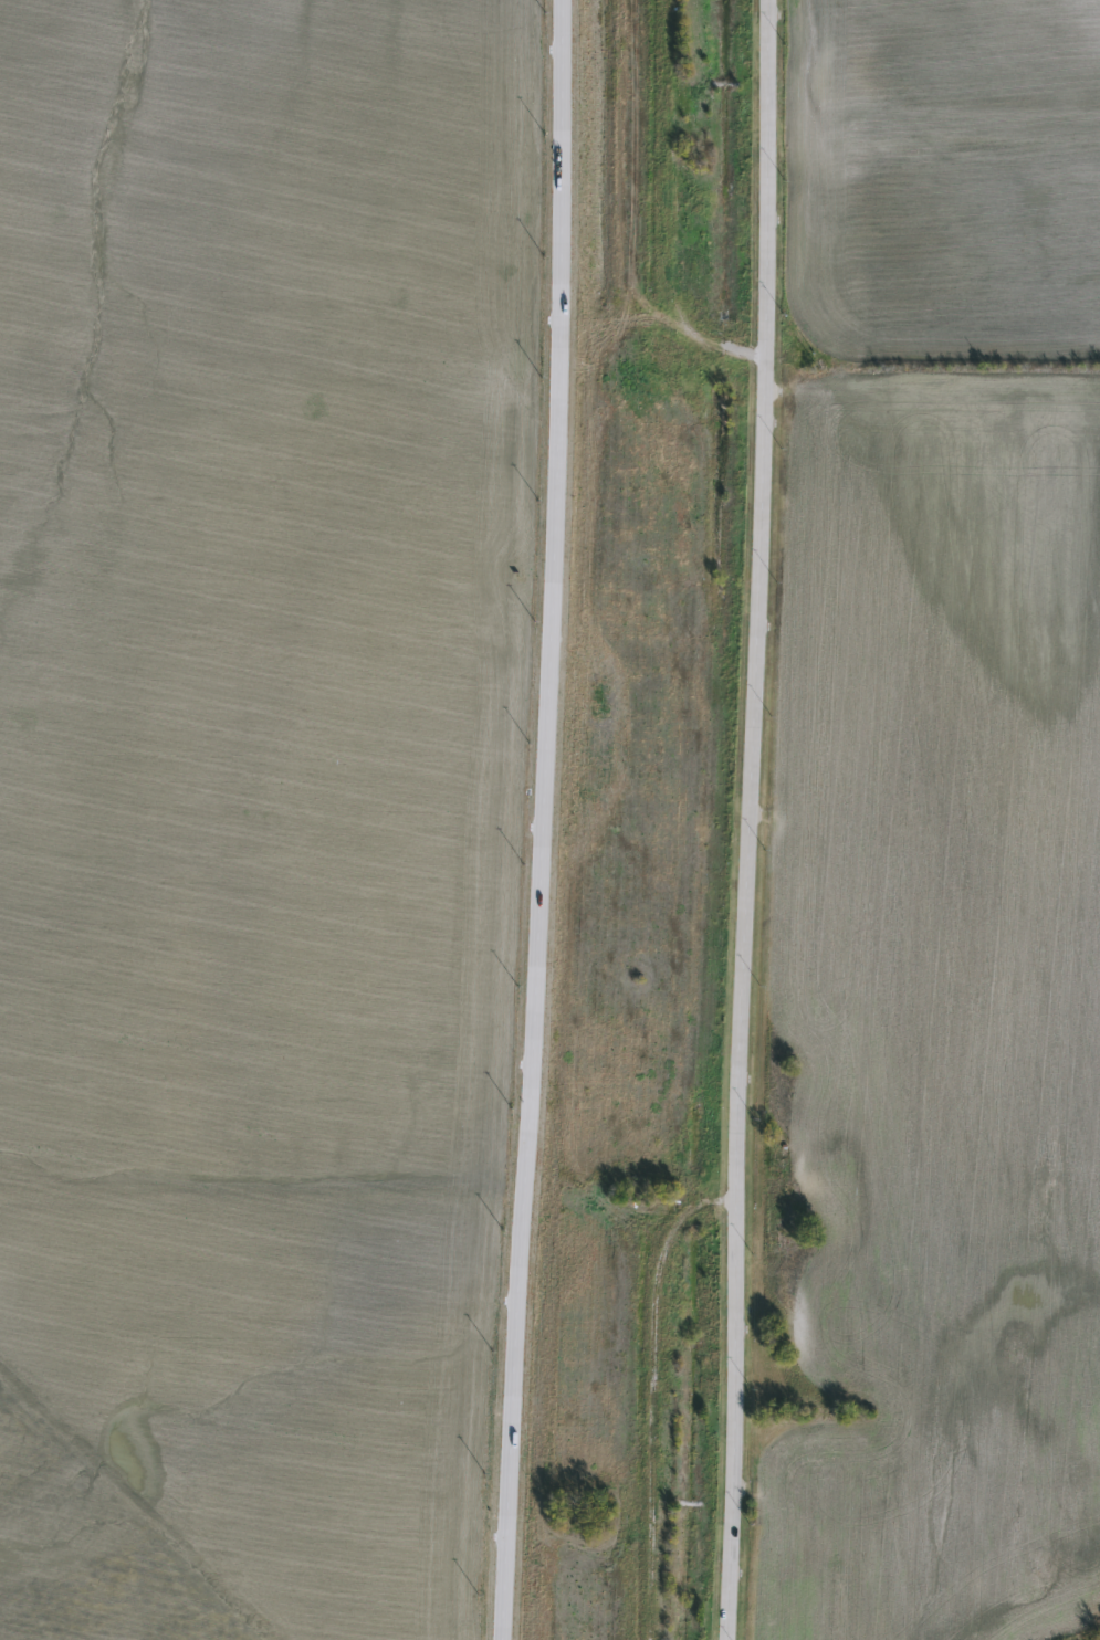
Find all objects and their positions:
crop: (228, 811)
road: (743, 819)
road: (542, 820)

